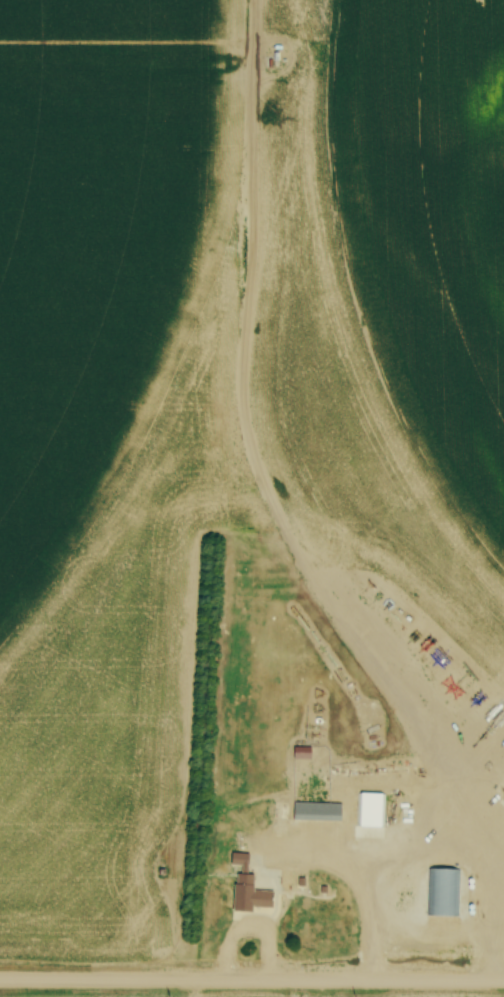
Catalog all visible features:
crop: (229, 390)
building: (302, 752)
building: (371, 807)
road: (471, 808)
building: (319, 811)
road: (376, 848)
building: (388, 869)
silo: (388, 869)
building: (302, 880)
building: (249, 886)
building: (325, 889)
building: (444, 891)
building: (389, 912)
silo: (389, 912)
building: (404, 913)
silo: (404, 913)
road: (375, 914)
building: (416, 923)
silo: (416, 923)
road: (251, 924)
road: (252, 978)
crop: (329, 996)

